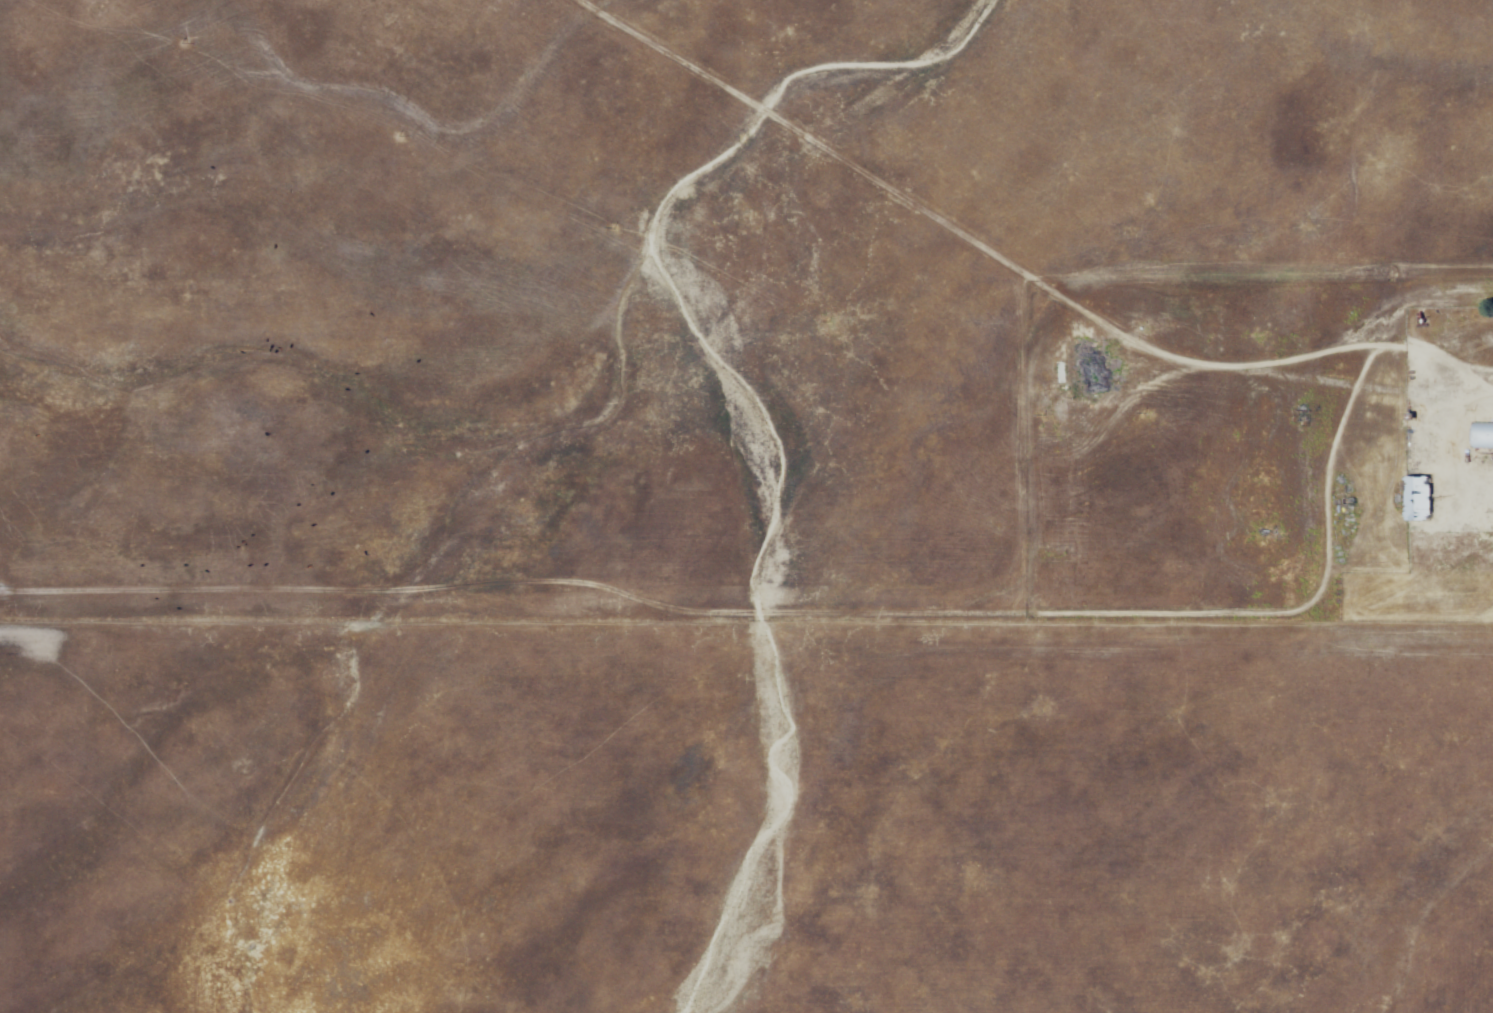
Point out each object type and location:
road: (1014, 274)
building: (1483, 437)
building: (1421, 501)
road: (809, 613)

